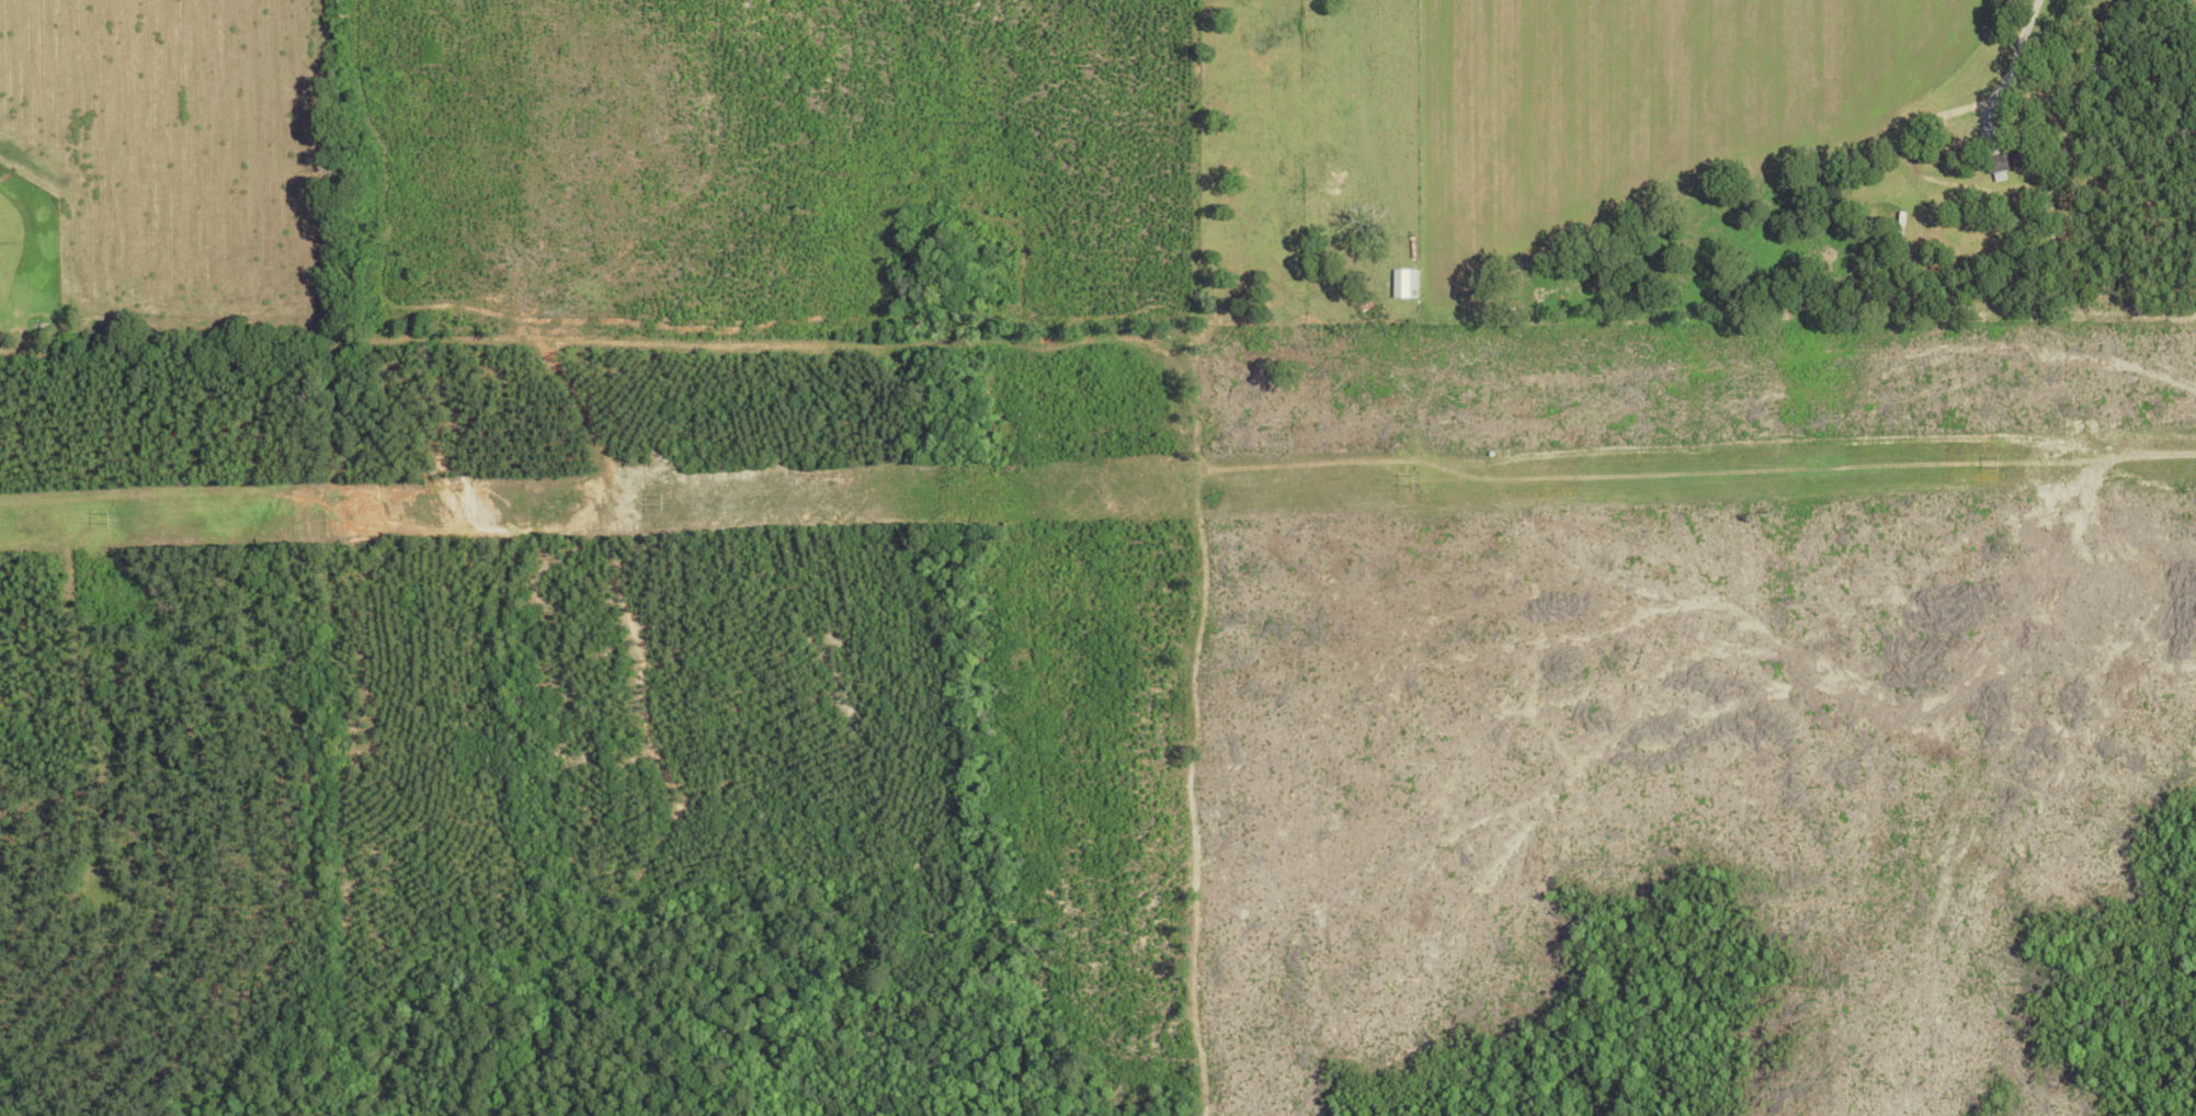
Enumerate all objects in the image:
road: (1342, 65)
road: (1955, 109)
building: (2004, 162)
building: (1404, 283)

